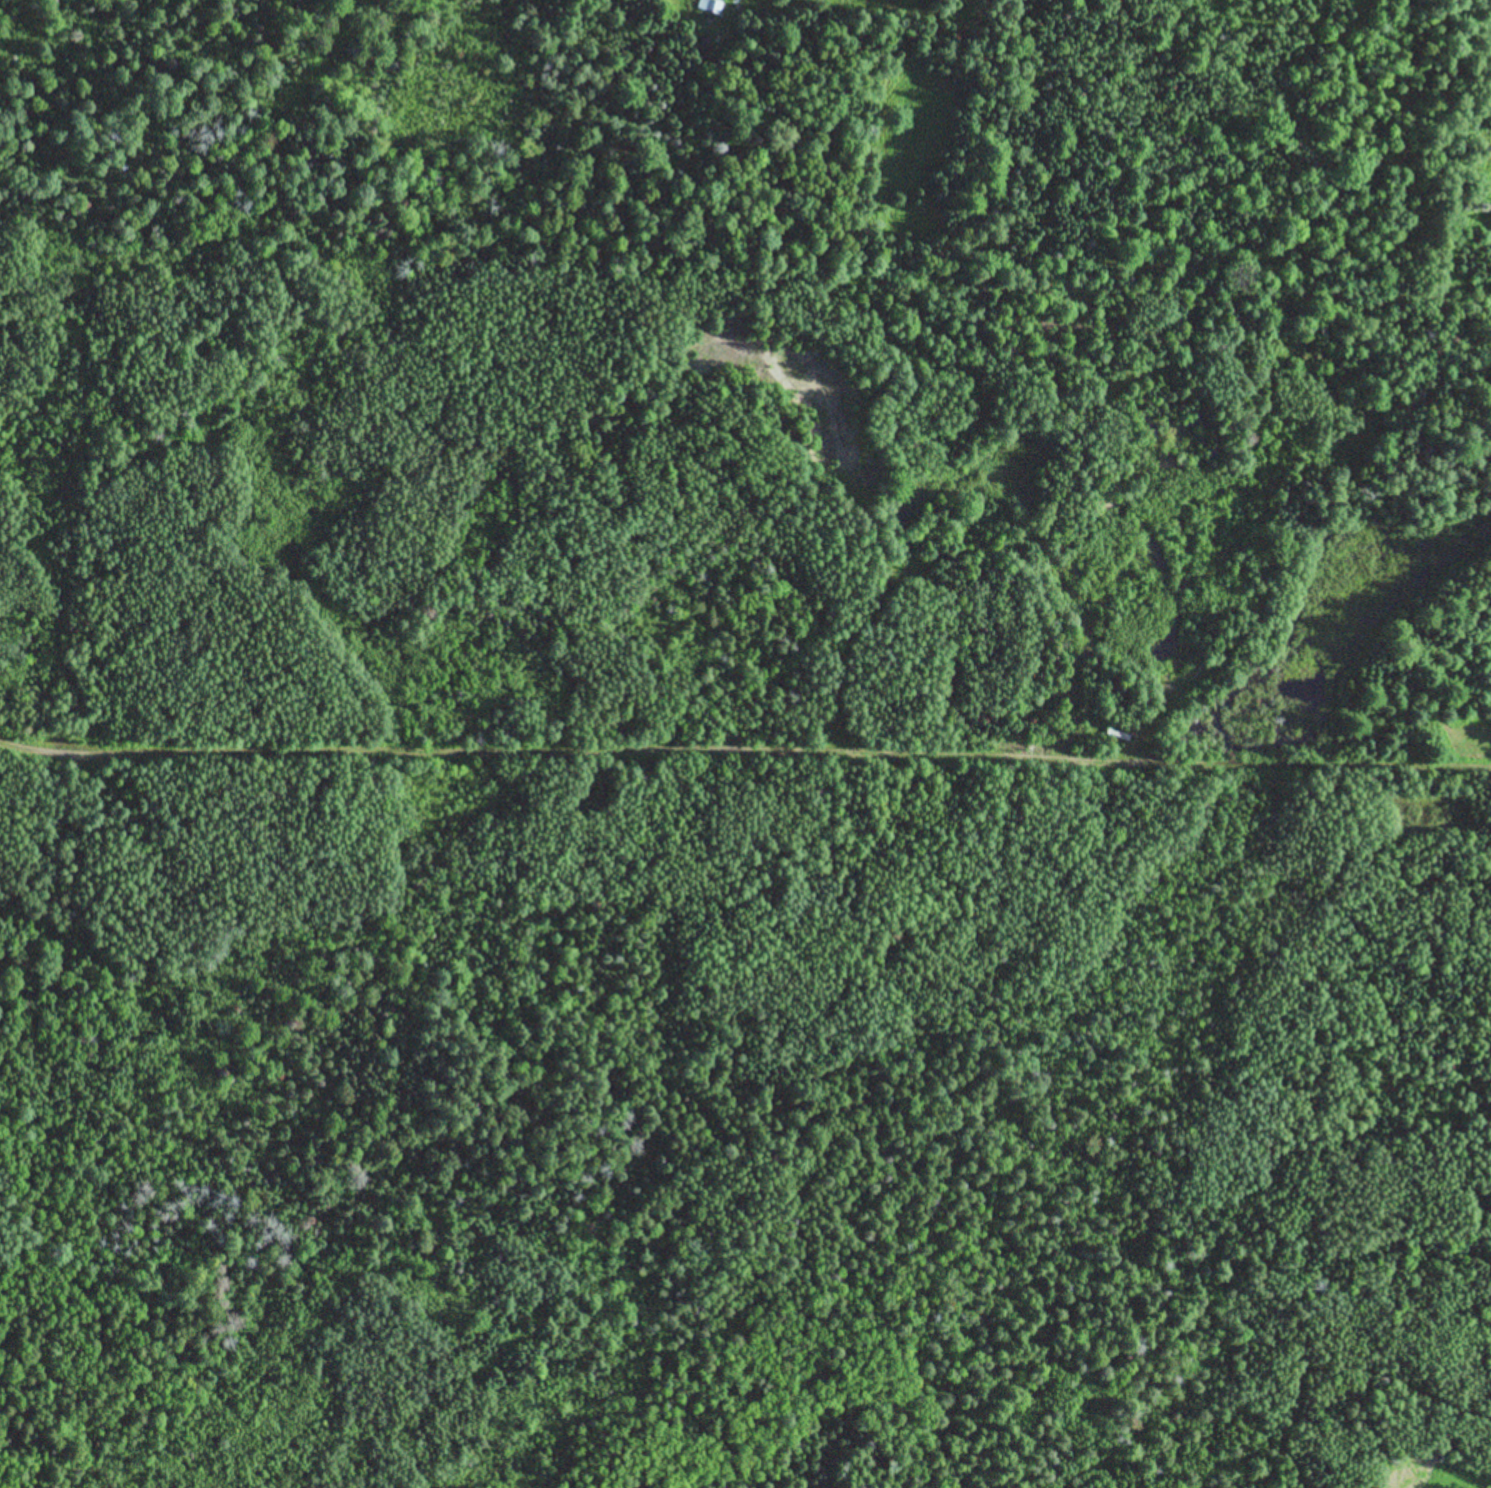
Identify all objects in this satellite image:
road: (745, 748)

